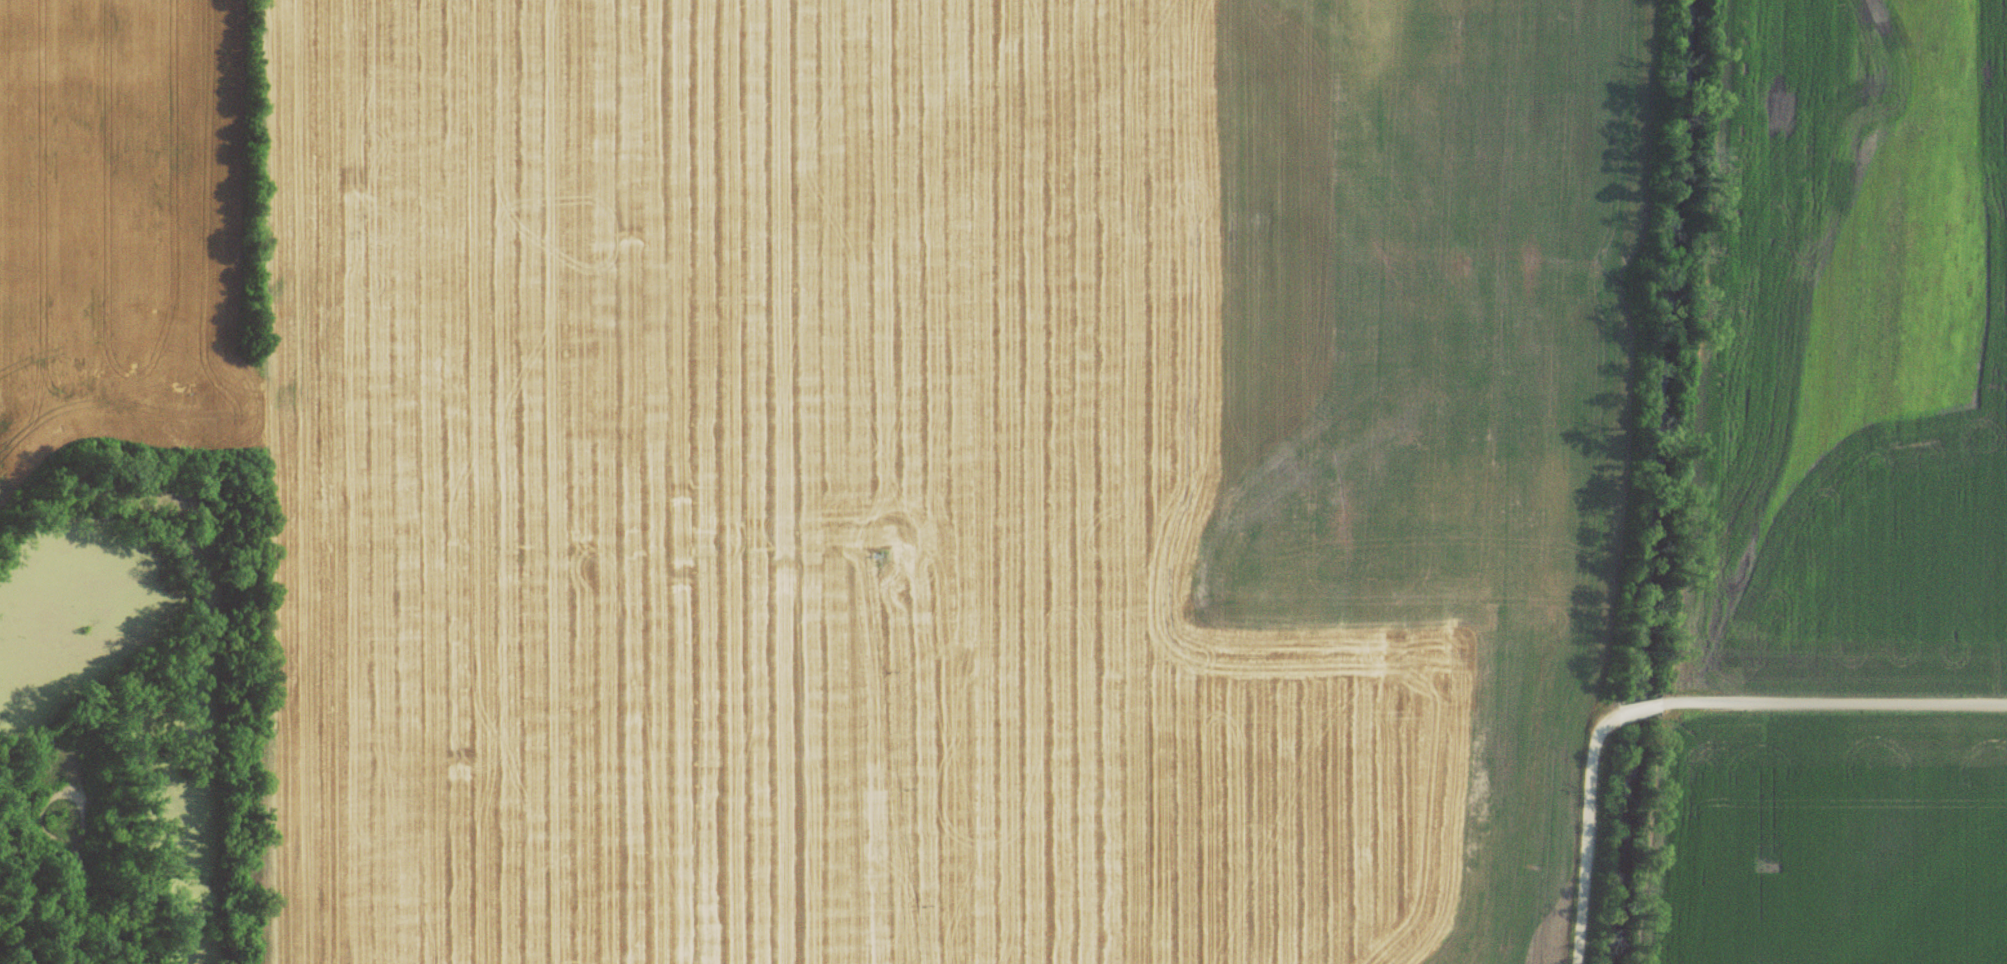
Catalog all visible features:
road: (1836, 709)
road: (1642, 716)
road: (1588, 838)

